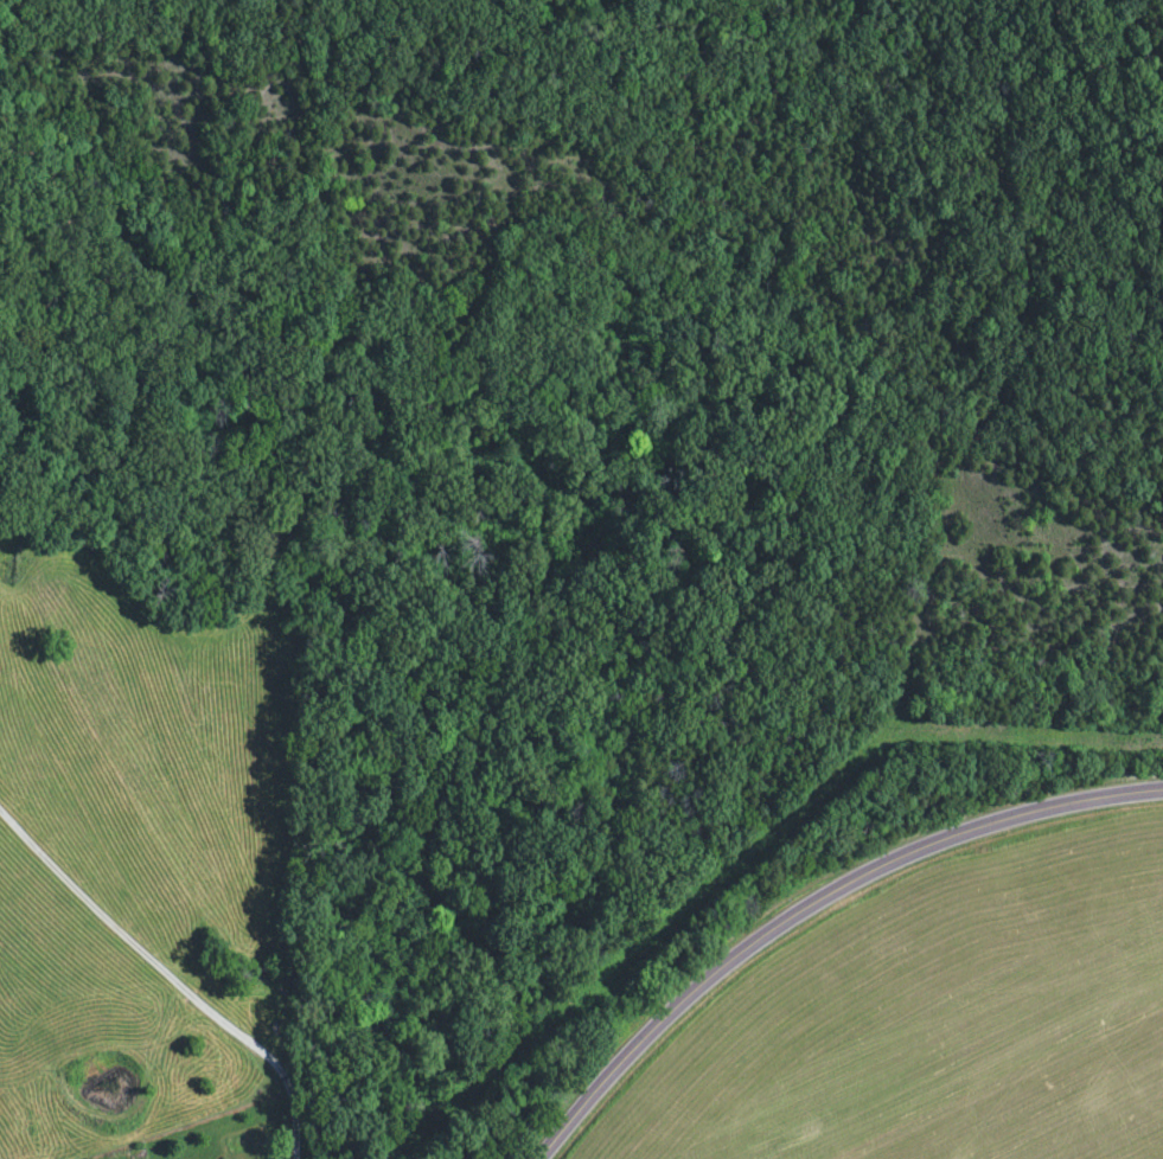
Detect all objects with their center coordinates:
road: (813, 905)
road: (177, 975)

